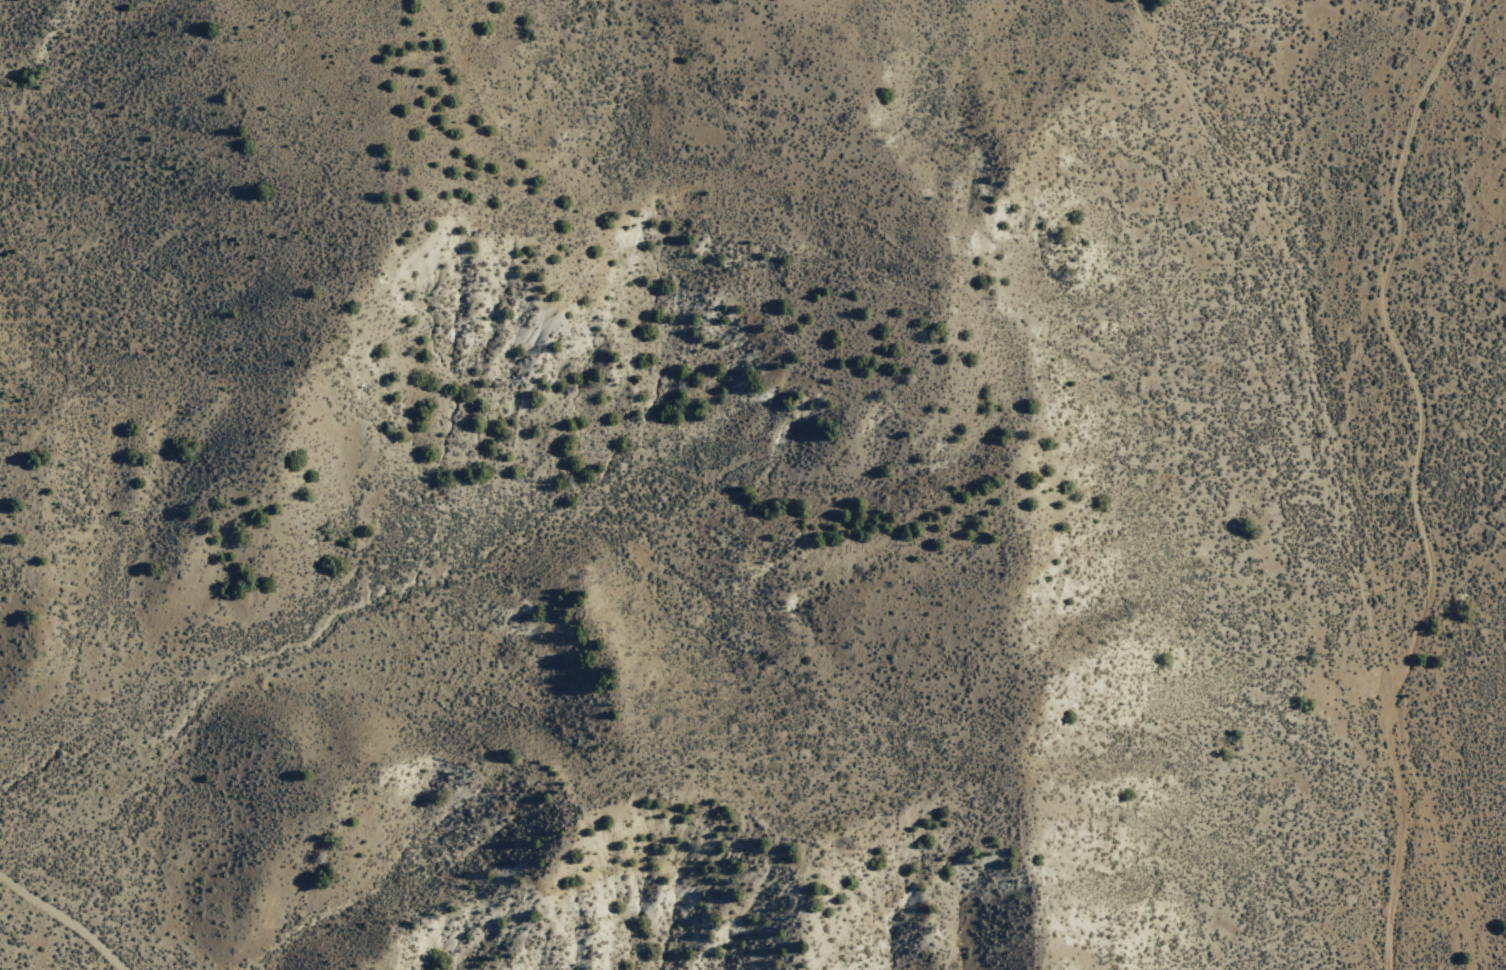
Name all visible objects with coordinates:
road: (1419, 475)
crop: (1488, 896)
road: (59, 925)

